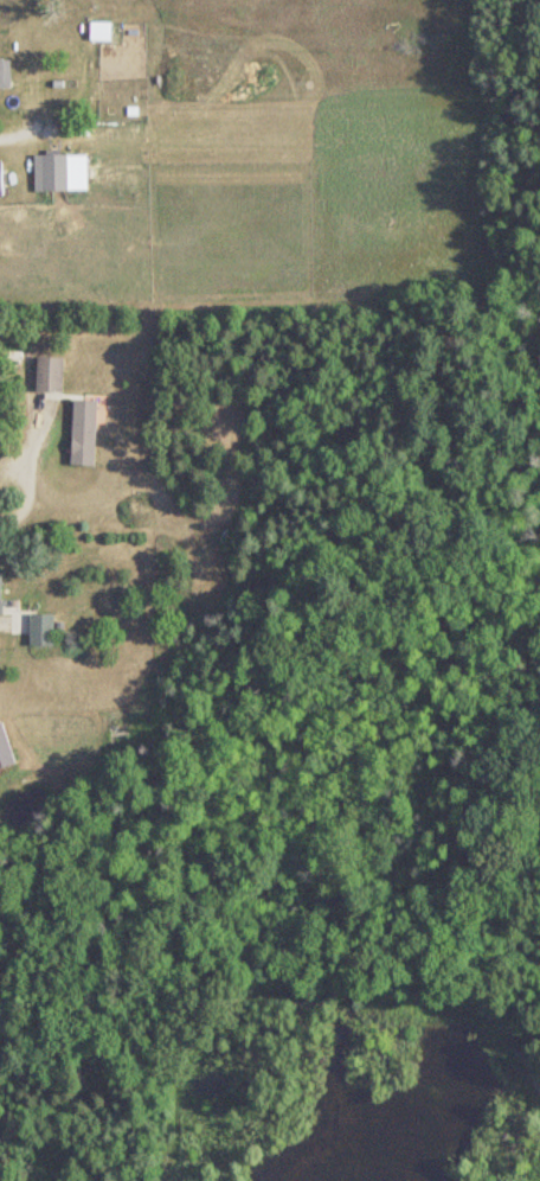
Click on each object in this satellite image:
building: (101, 32)
building: (5, 72)
road: (15, 136)
building: (56, 172)
building: (1, 179)
building: (50, 375)
building: (84, 432)
road: (28, 478)
building: (1, 595)
building: (43, 630)
building: (118, 723)

